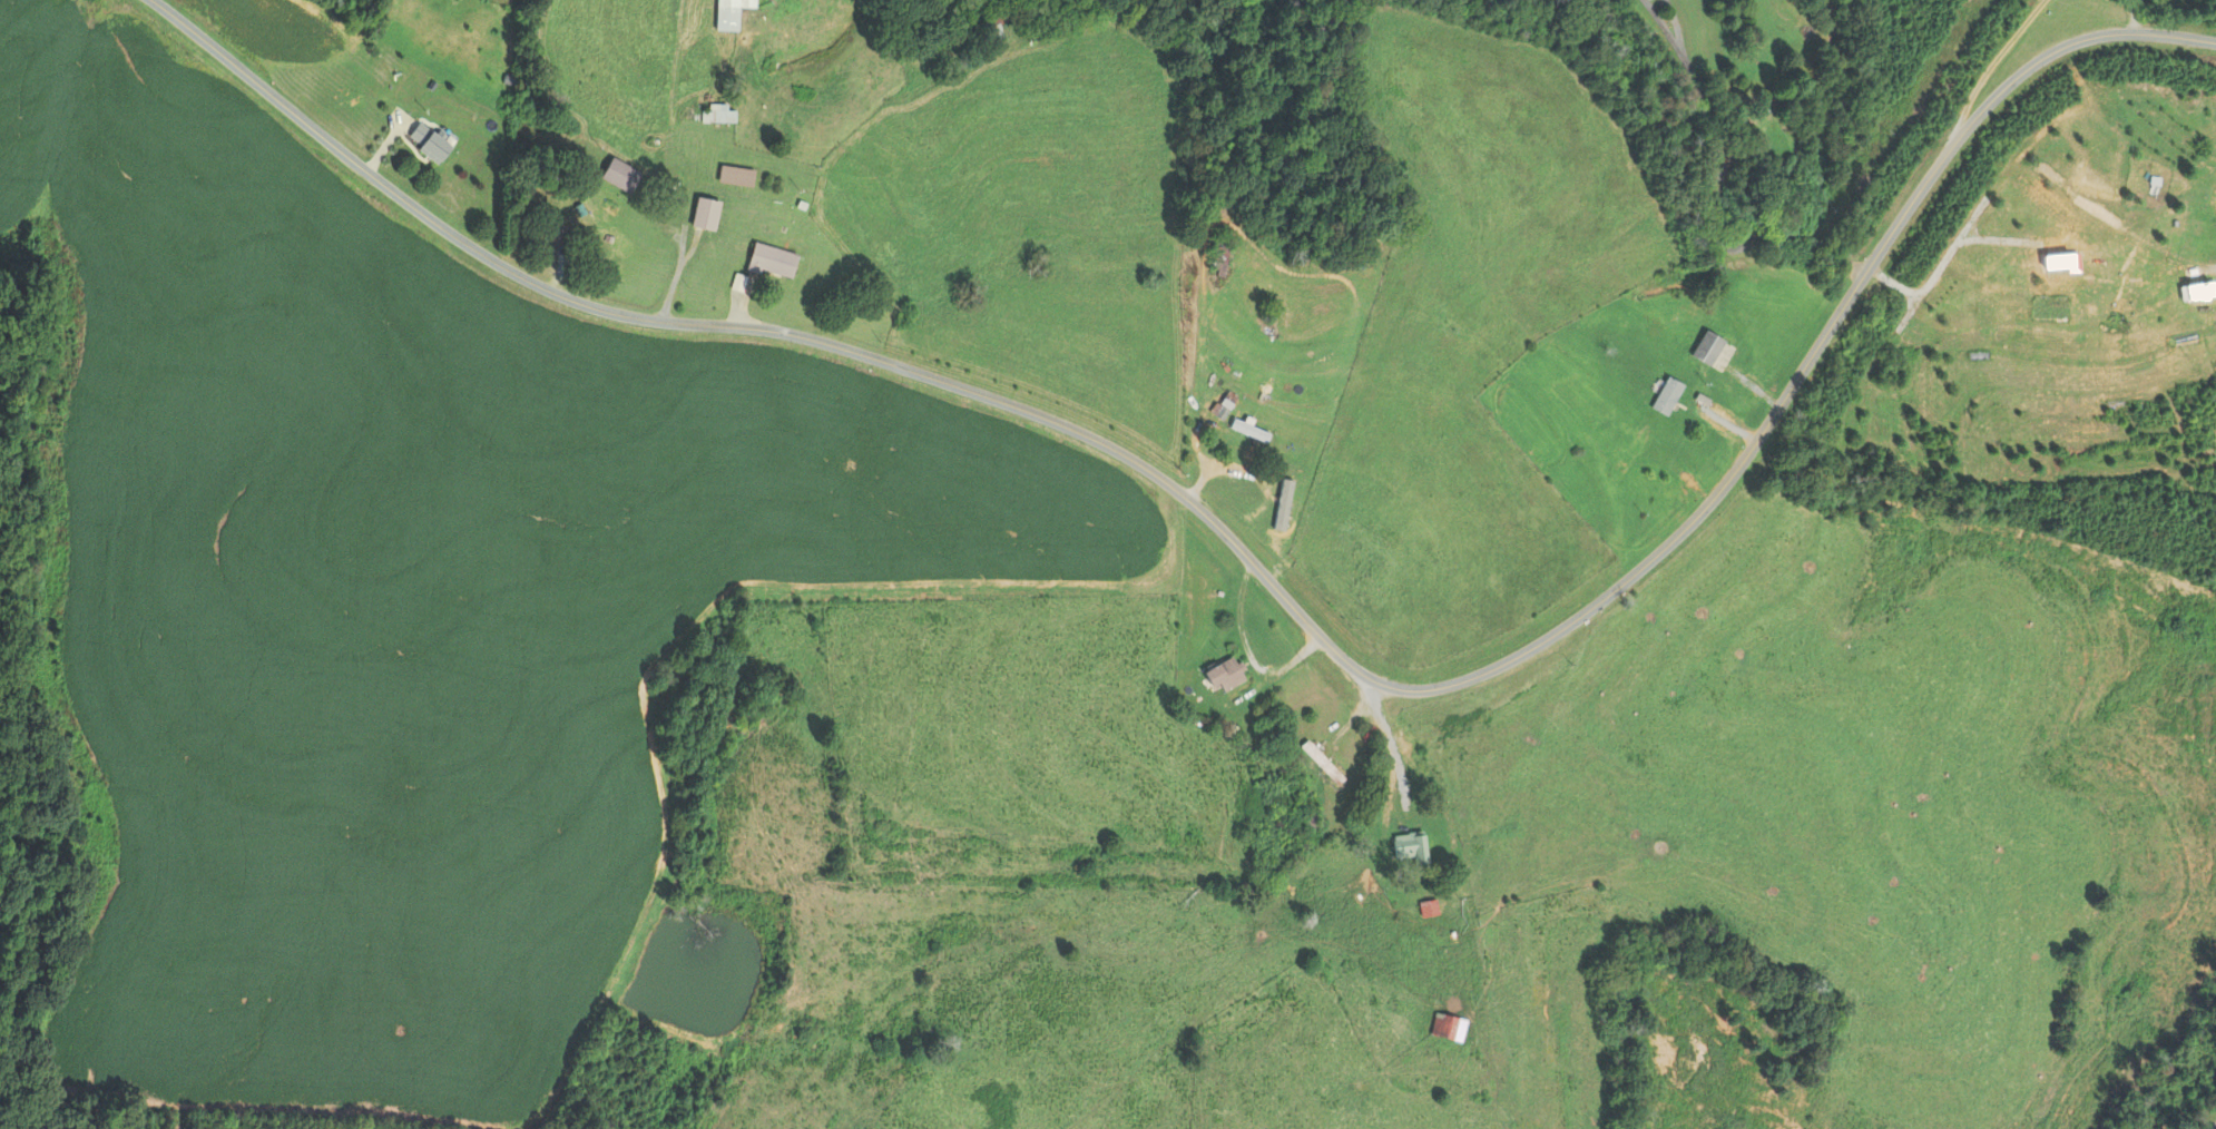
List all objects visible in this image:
building: (731, 13)
building: (997, 22)
road: (1675, 22)
road: (1661, 23)
building: (718, 115)
building: (620, 175)
building: (736, 176)
building: (705, 214)
road: (1716, 222)
building: (557, 233)
building: (1220, 257)
building: (772, 261)
building: (1707, 348)
building: (1666, 396)
building: (1251, 426)
building: (1630, 454)
road: (1267, 579)
building: (1224, 675)
road: (78, 745)
road: (1389, 746)
building: (1322, 763)
building: (1310, 822)
building: (1410, 847)
building: (1428, 909)
building: (1447, 1033)
road: (2214, 1127)

